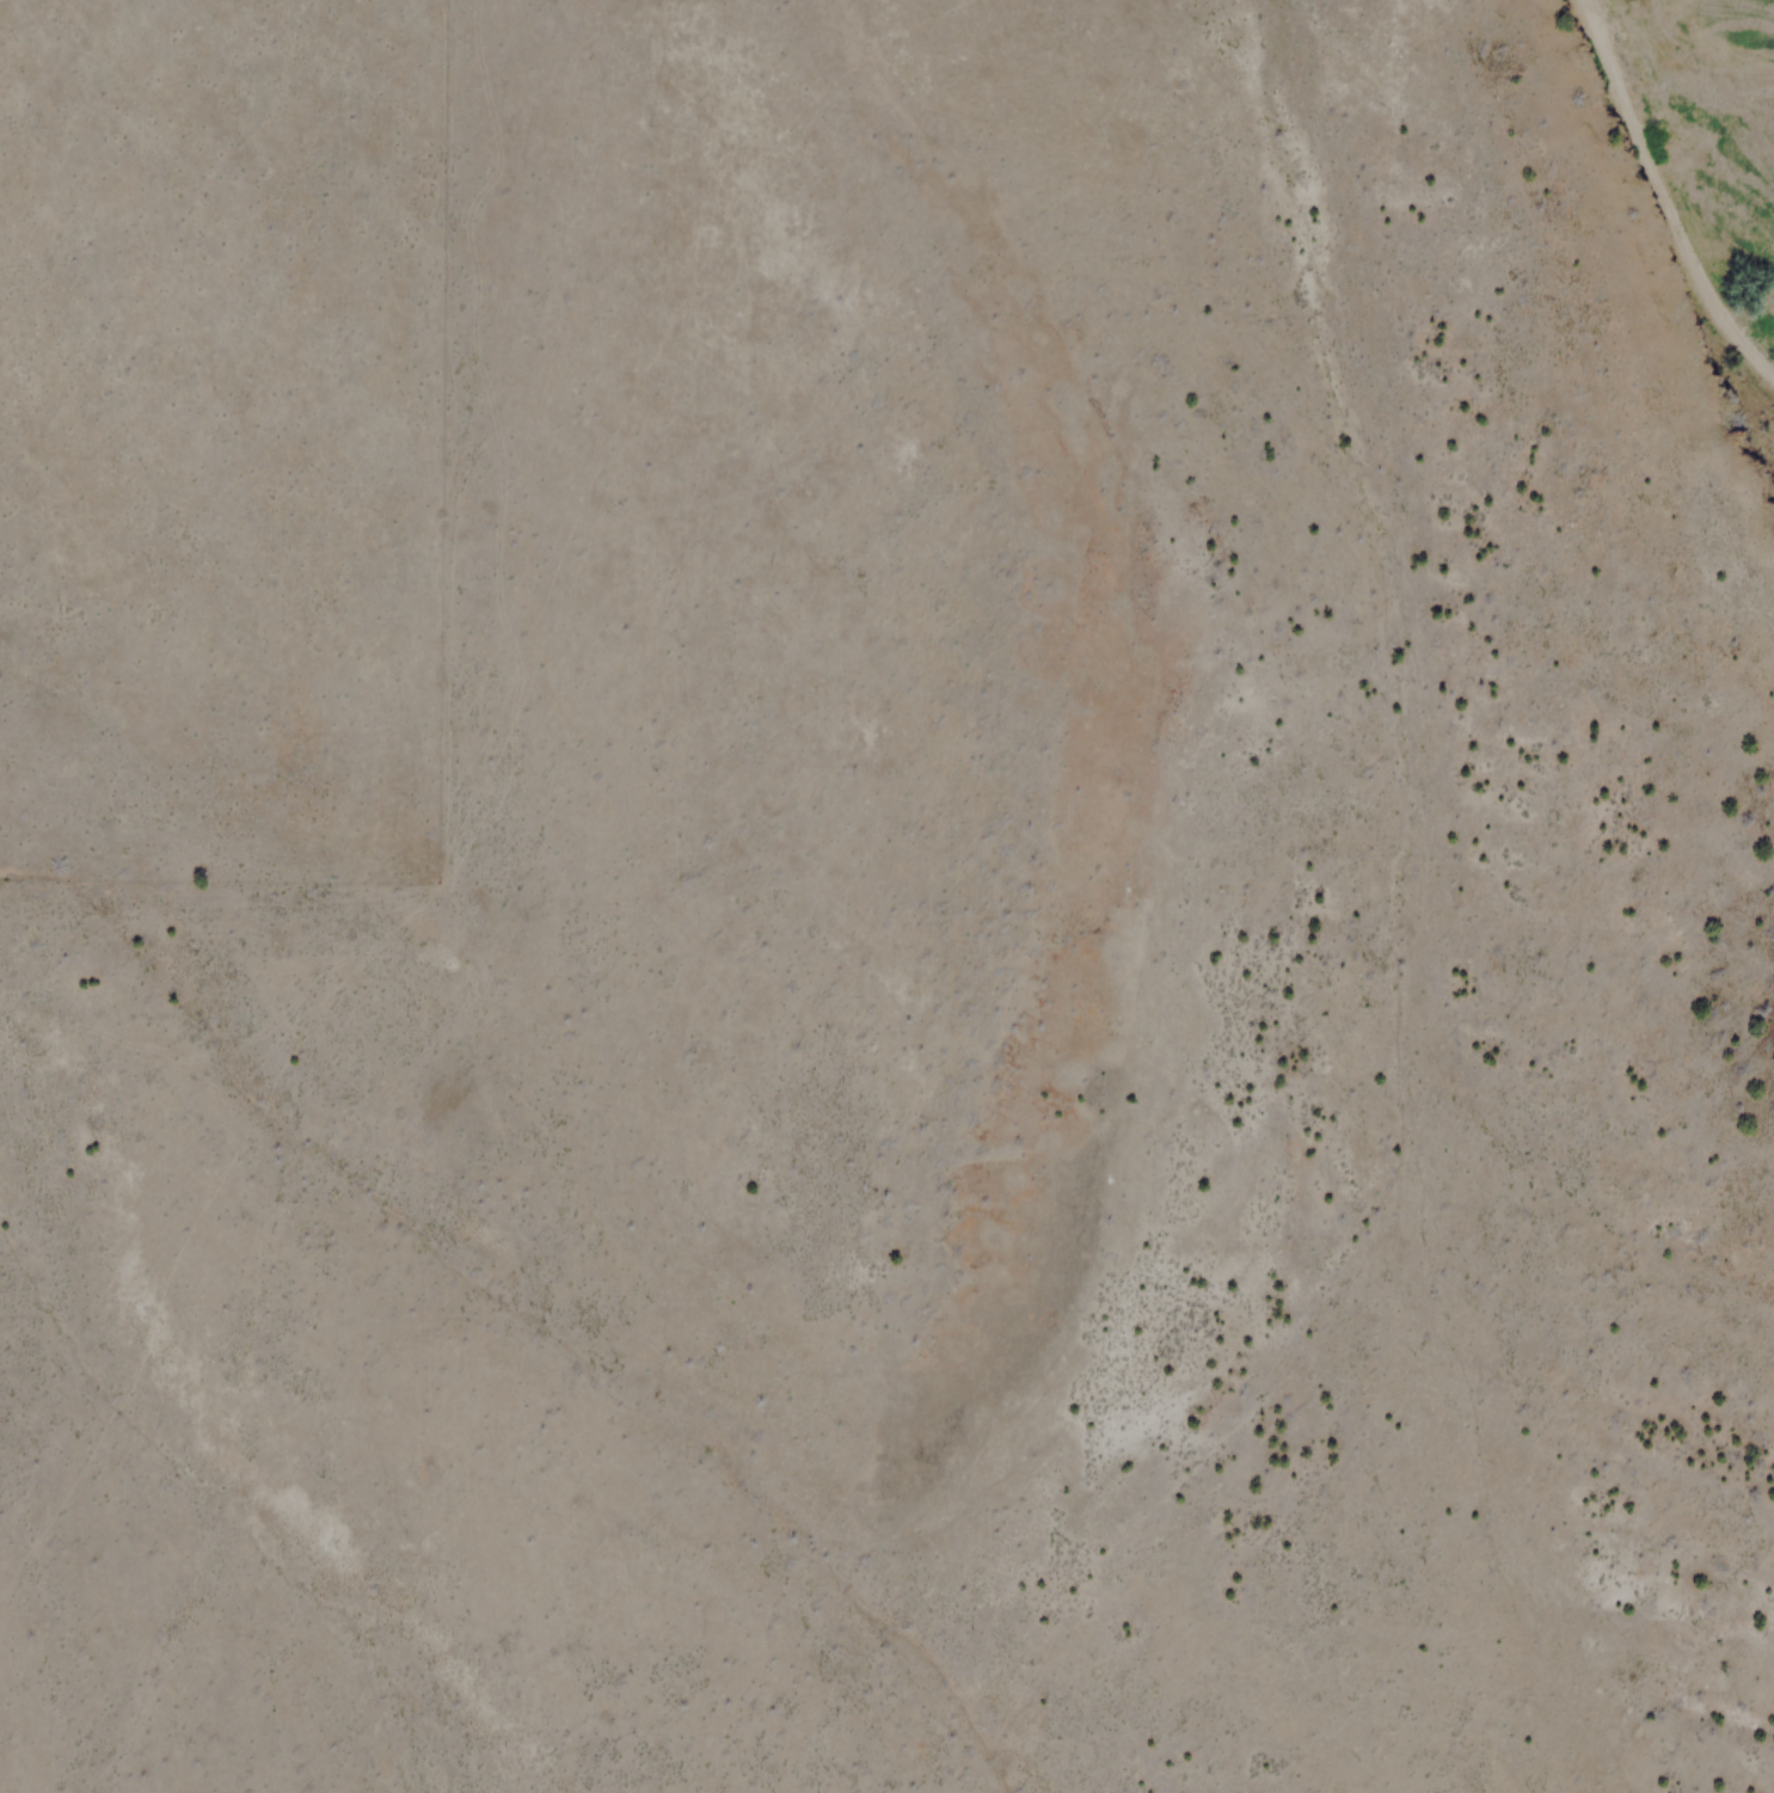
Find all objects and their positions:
road: (1662, 196)

